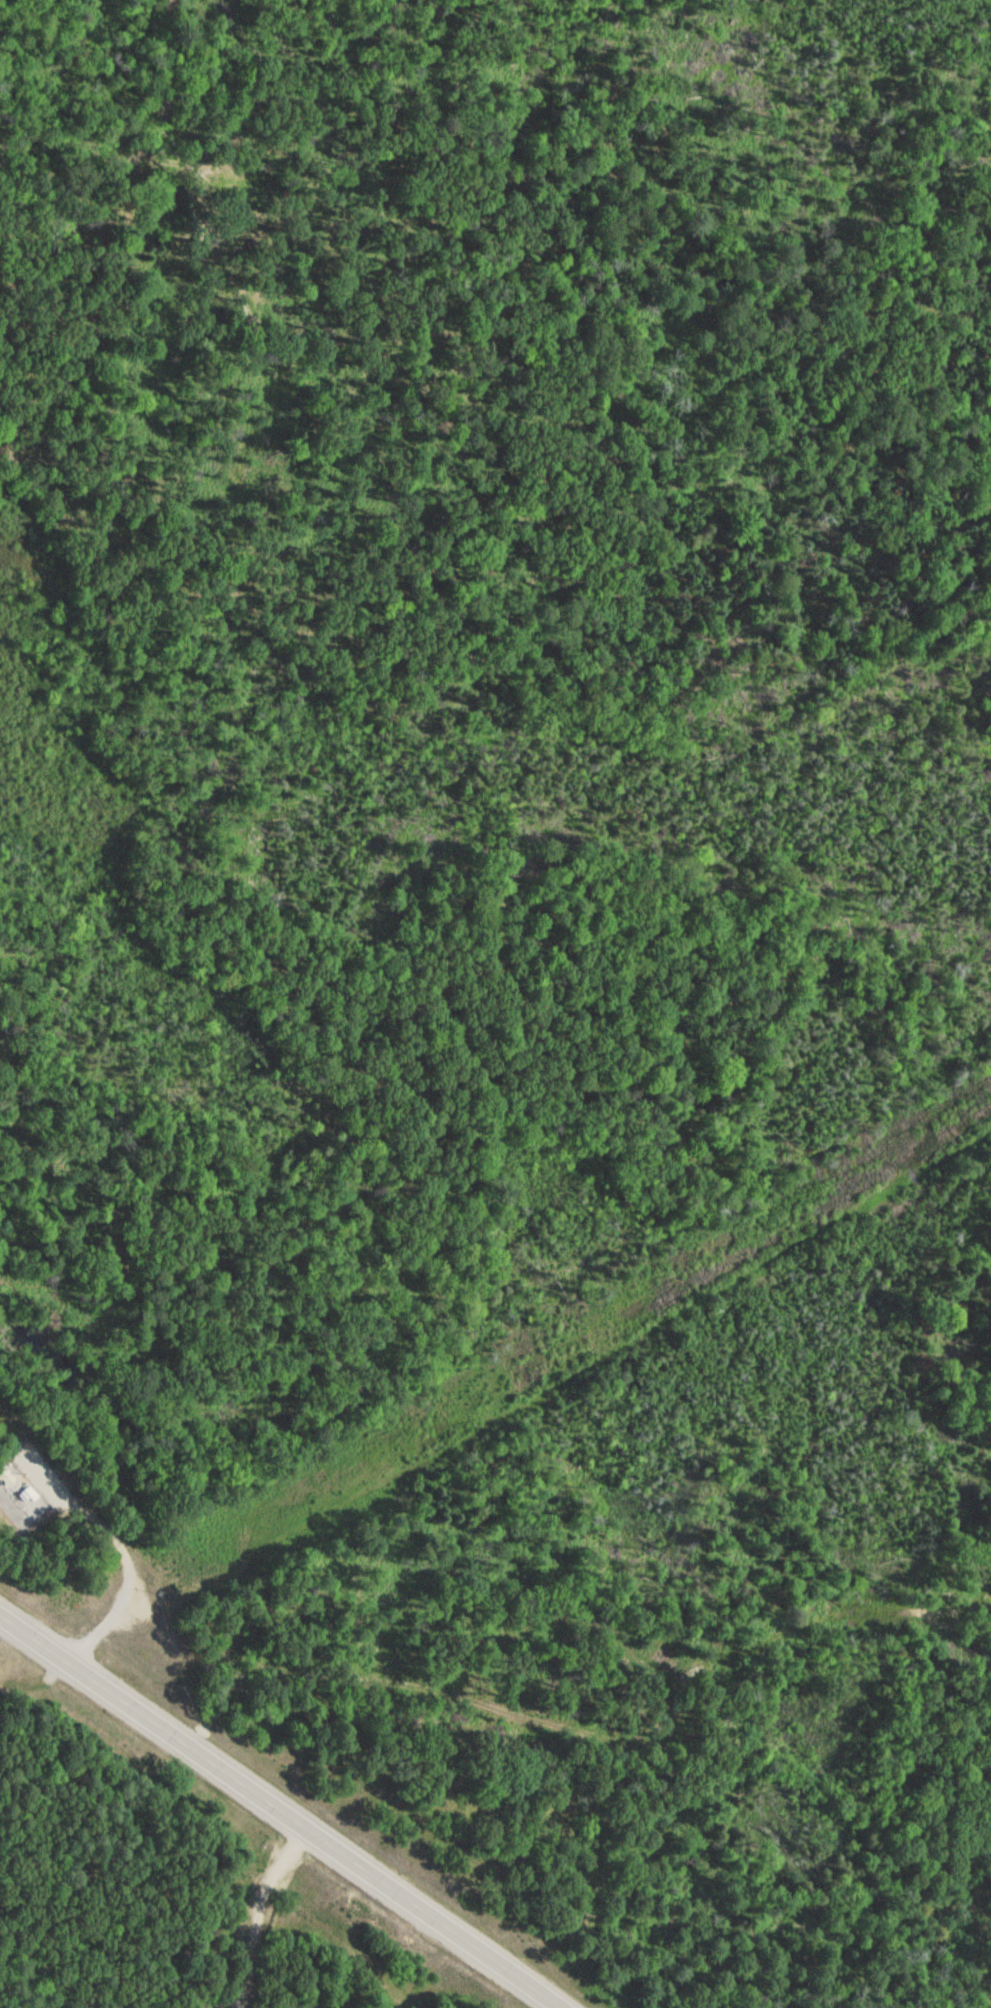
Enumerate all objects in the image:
road: (155, 161)
road: (103, 1532)
road: (283, 1810)
road: (259, 1910)

